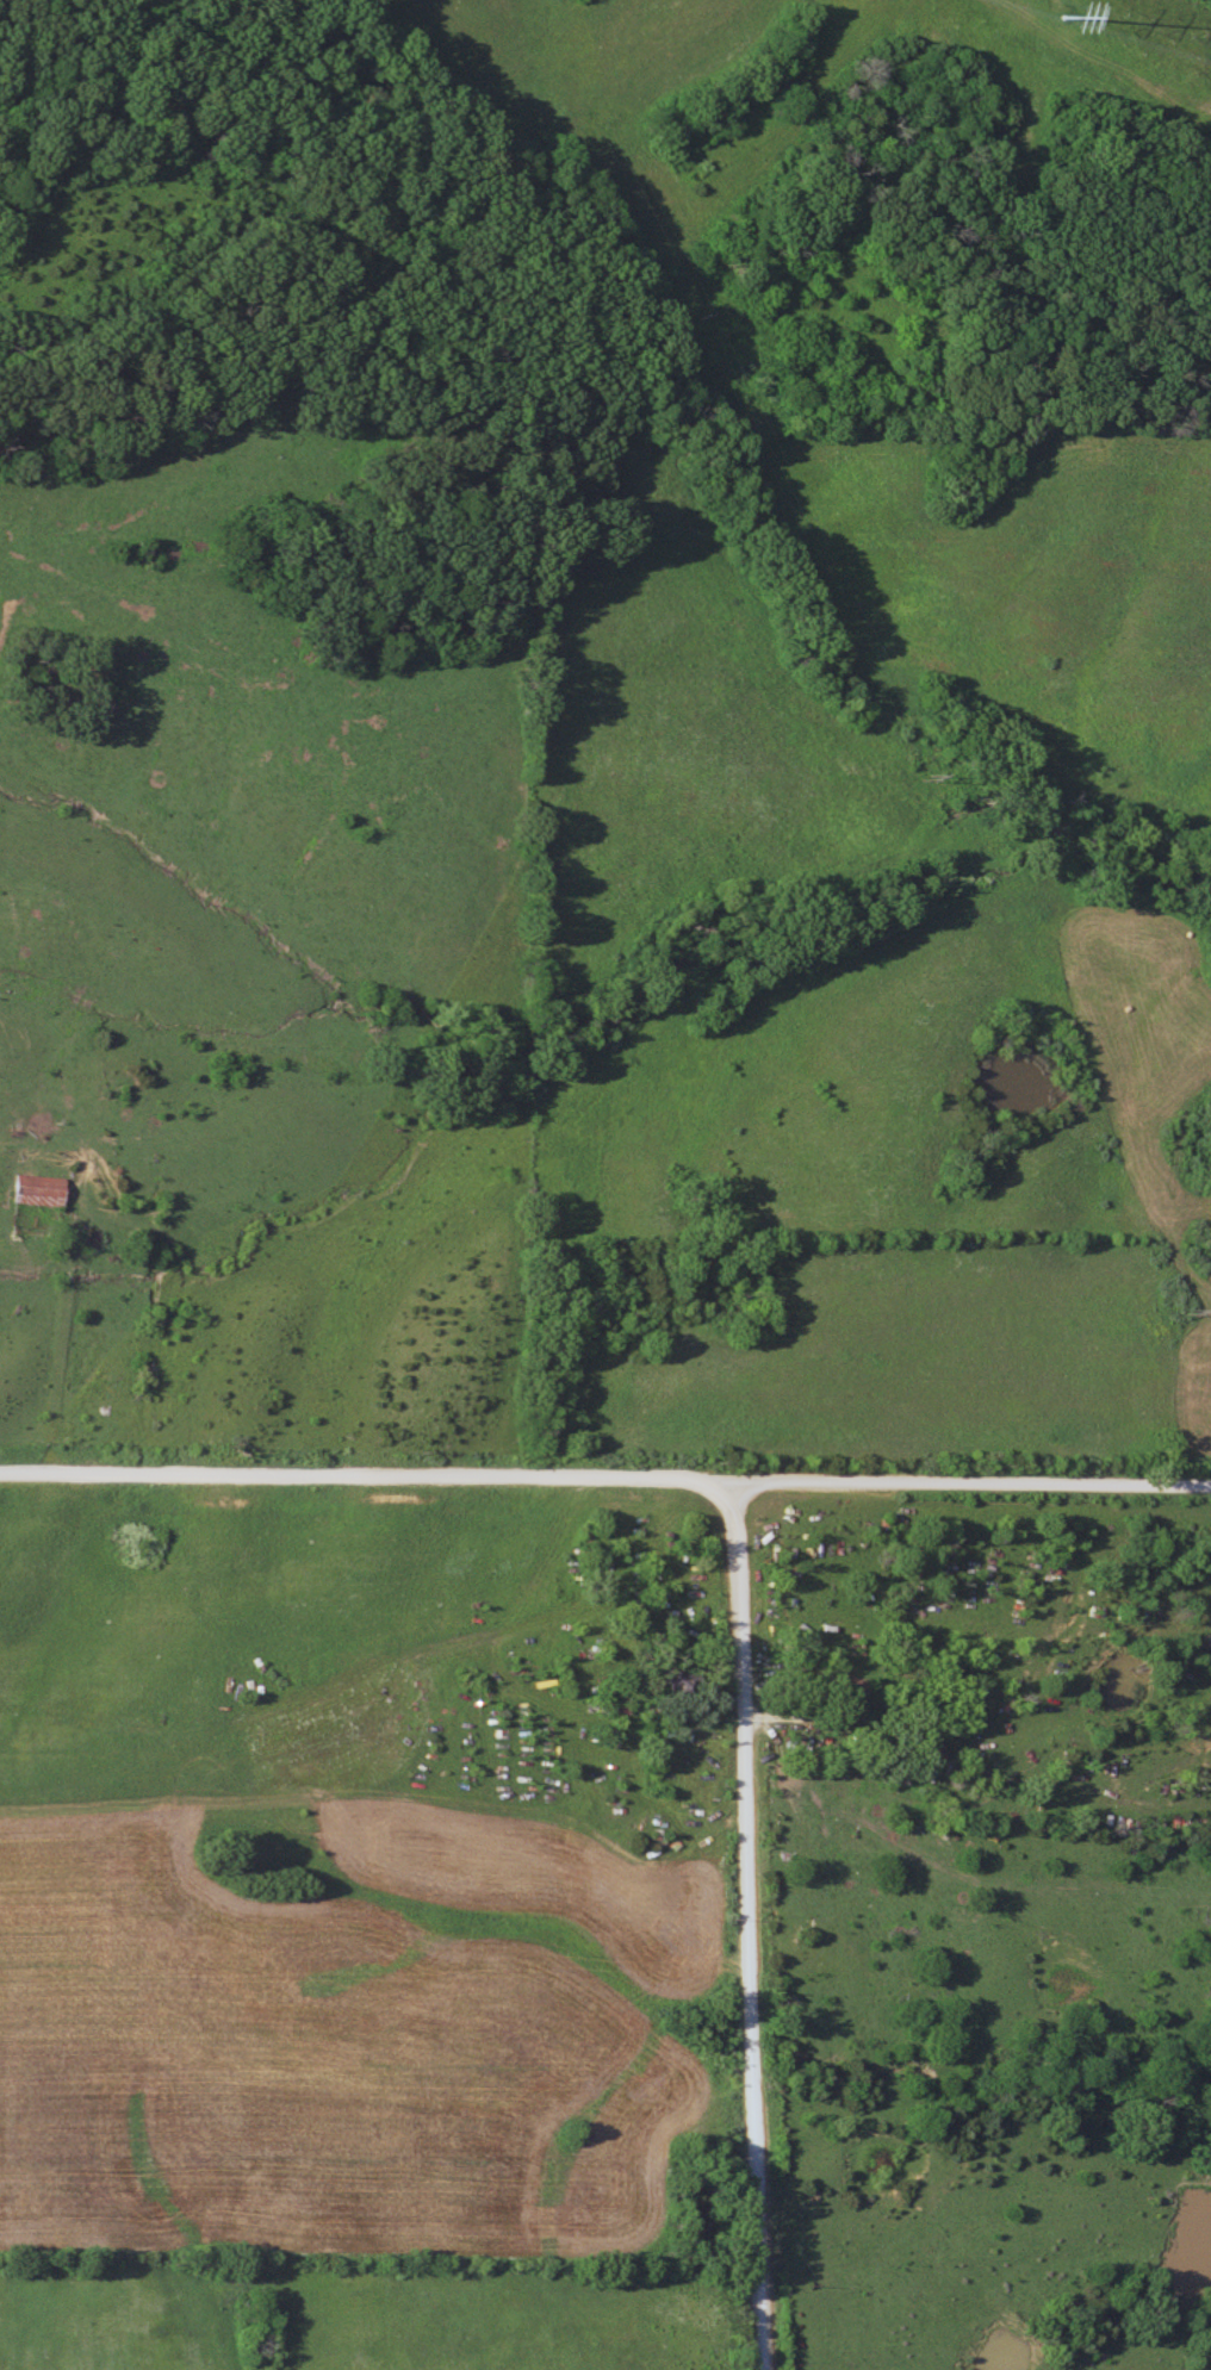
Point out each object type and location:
power tower: (1064, 27)
building: (41, 1189)
road: (362, 1470)
road: (967, 1481)
road: (747, 1930)

